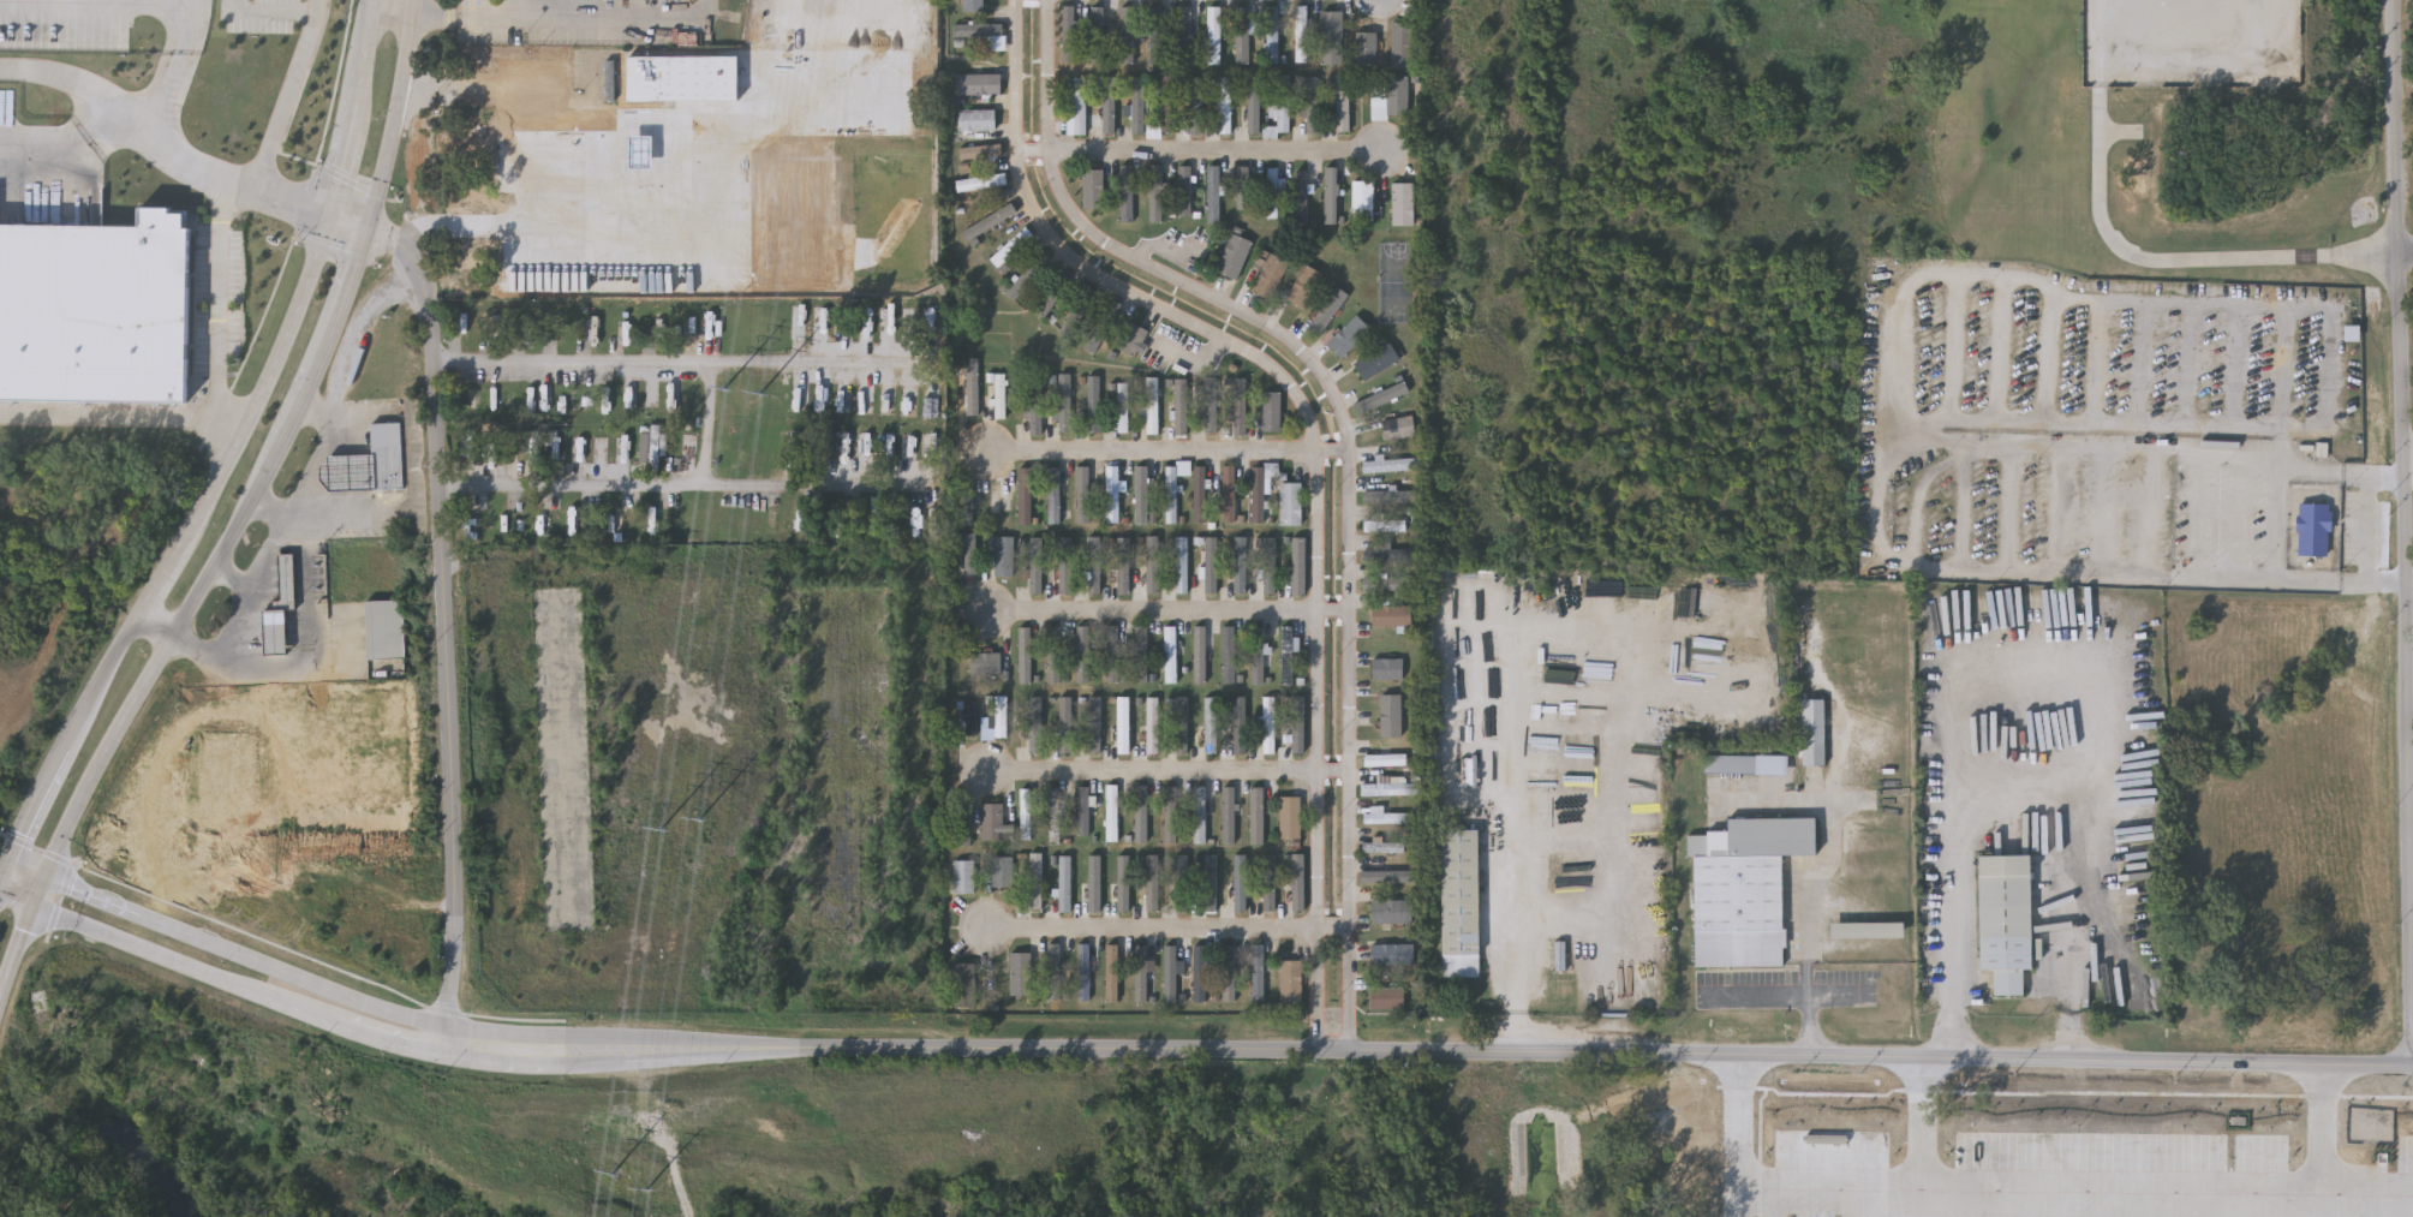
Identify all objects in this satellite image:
road: (376, 1)
building: (973, 5)
road: (269, 10)
road: (553, 22)
building: (985, 30)
building: (1073, 32)
building: (1301, 32)
building: (1098, 34)
building: (1124, 34)
building: (1158, 34)
building: (1185, 34)
building: (1214, 34)
building: (1242, 34)
building: (1272, 34)
building: (1331, 36)
building: (1364, 42)
road: (366, 43)
building: (1402, 44)
building: (688, 82)
building: (979, 83)
road: (289, 95)
building: (1403, 97)
building: (1254, 102)
building: (1283, 102)
building: (1342, 102)
building: (1196, 103)
building: (1224, 103)
building: (1312, 103)
building: (1137, 105)
building: (1110, 106)
building: (1166, 106)
road: (351, 107)
building: (1080, 107)
road: (396, 115)
road: (604, 115)
road: (132, 118)
building: (976, 119)
road: (156, 149)
building: (981, 149)
road: (1199, 155)
road: (336, 169)
building: (572, 179)
building: (981, 181)
building: (1242, 186)
building: (1093, 189)
building: (1184, 191)
building: (1157, 192)
building: (1273, 192)
building: (1128, 193)
building: (1213, 193)
building: (1331, 195)
building: (1300, 199)
building: (1362, 199)
building: (1402, 203)
traffic signals: (327, 210)
road: (477, 215)
road: (347, 220)
building: (990, 221)
traffic signals: (369, 229)
building: (1011, 247)
road: (1169, 251)
road: (2131, 255)
building: (1234, 256)
road: (2405, 256)
road: (350, 275)
building: (1028, 276)
building: (1268, 276)
building: (1303, 286)
building: (1053, 294)
building: (90, 308)
building: (1079, 311)
building: (1327, 311)
road: (221, 316)
building: (1103, 326)
building: (2351, 335)
building: (1348, 336)
building: (1131, 339)
road: (1892, 347)
road: (670, 362)
building: (1375, 362)
road: (267, 378)
building: (972, 384)
power tower: (727, 394)
building: (999, 395)
building: (1380, 395)
power tower: (761, 400)
building: (1065, 402)
building: (1094, 404)
building: (1152, 404)
building: (1211, 404)
building: (1034, 405)
building: (1122, 406)
building: (1181, 406)
building: (1240, 406)
building: (1271, 410)
road: (316, 412)
road: (107, 420)
road: (718, 425)
building: (1397, 426)
building: (554, 446)
building: (652, 449)
road: (1349, 449)
road: (1315, 451)
building: (596, 452)
road: (2408, 454)
road: (1170, 455)
building: (1390, 465)
building: (354, 473)
gas station: (354, 473)
road: (680, 488)
building: (1172, 488)
building: (1111, 493)
building: (1200, 493)
building: (1228, 493)
building: (1055, 494)
building: (1082, 494)
building: (1141, 494)
building: (1258, 494)
building: (1025, 495)
building: (1392, 495)
building: (964, 499)
road: (298, 501)
building: (1290, 502)
road: (271, 506)
road: (336, 517)
building: (1382, 524)
road: (2278, 524)
road: (2405, 531)
building: (2313, 532)
building: (1387, 554)
building: (1003, 556)
building: (1093, 563)
building: (1153, 563)
building: (1181, 563)
building: (1210, 563)
building: (1240, 563)
building: (1298, 563)
building: (1037, 565)
building: (1064, 565)
building: (1122, 565)
building: (1270, 565)
road: (161, 575)
road: (232, 575)
building: (1386, 583)
road: (193, 601)
building: (280, 608)
building: (1391, 614)
road: (1171, 616)
road: (444, 627)
building: (386, 628)
road: (1565, 628)
road: (306, 632)
building: (1112, 652)
building: (1026, 654)
building: (1056, 654)
building: (1082, 654)
building: (1140, 654)
building: (1170, 654)
building: (1199, 654)
building: (1228, 654)
building: (1256, 654)
building: (1286, 655)
building: (985, 662)
building: (1386, 668)
road: (97, 679)
road: (2409, 688)
building: (1001, 716)
building: (1392, 716)
building: (969, 718)
building: (1296, 723)
building: (1065, 724)
building: (1093, 724)
building: (1122, 724)
building: (1152, 724)
building: (1181, 724)
building: (1211, 724)
building: (1238, 724)
building: (1267, 724)
building: (1034, 726)
building: (1814, 733)
building: (1378, 757)
building: (1732, 765)
road: (1169, 776)
building: (1386, 788)
road: (2007, 795)
road: (34, 804)
building: (1085, 810)
building: (1110, 812)
building: (1025, 813)
building: (1140, 813)
building: (1170, 813)
building: (1199, 813)
building: (1055, 815)
building: (1228, 815)
building: (1255, 816)
building: (1385, 816)
building: (1289, 817)
building: (963, 821)
building: (991, 821)
power tower: (703, 824)
power tower: (664, 833)
building: (1381, 846)
traffic signals: (8, 861)
road: (26, 869)
road: (4, 870)
building: (1002, 870)
traffic signals: (44, 876)
building: (962, 876)
building: (1382, 876)
building: (1035, 879)
building: (1207, 879)
road: (1820, 879)
building: (1296, 881)
building: (1063, 882)
building: (1093, 882)
building: (1122, 882)
building: (1152, 882)
building: (1181, 882)
building: (1240, 882)
building: (1267, 882)
building: (1744, 889)
road: (38, 891)
road: (16, 899)
building: (1461, 903)
traffic signals: (32, 908)
building: (569, 909)
building: (1388, 911)
building: (2005, 920)
building: (1868, 929)
road: (1171, 931)
road: (16, 948)
building: (1390, 954)
building: (1560, 965)
building: (1082, 971)
building: (1110, 971)
building: (1020, 972)
building: (1140, 972)
building: (1197, 972)
building: (1228, 972)
building: (1256, 972)
building: (1169, 973)
building: (1289, 980)
building: (964, 984)
road: (1781, 995)
building: (1385, 997)
road: (482, 1032)
road: (1680, 1055)
road: (477, 1058)
building: (1665, 1116)
building: (1850, 1159)
power tower: (614, 1175)
road: (1829, 1182)
power tower: (649, 1195)
road: (2186, 1197)

